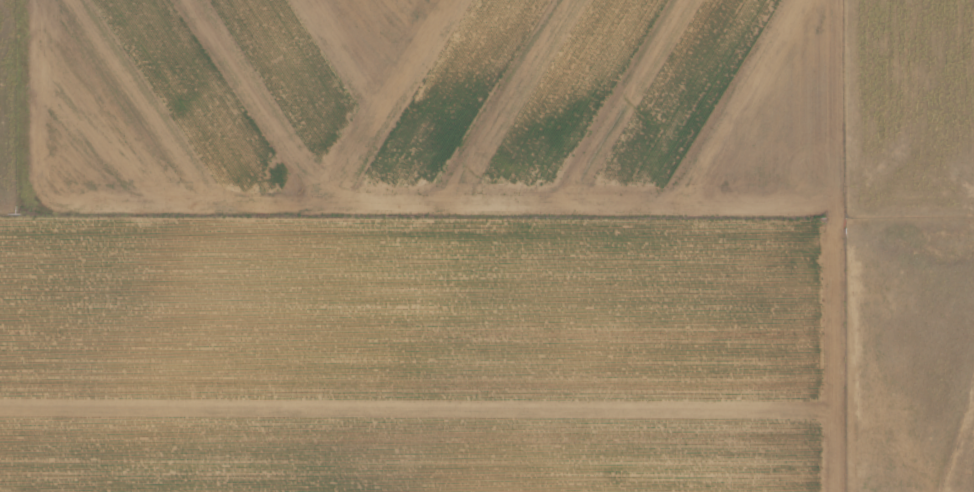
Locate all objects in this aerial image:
road: (36, 192)

